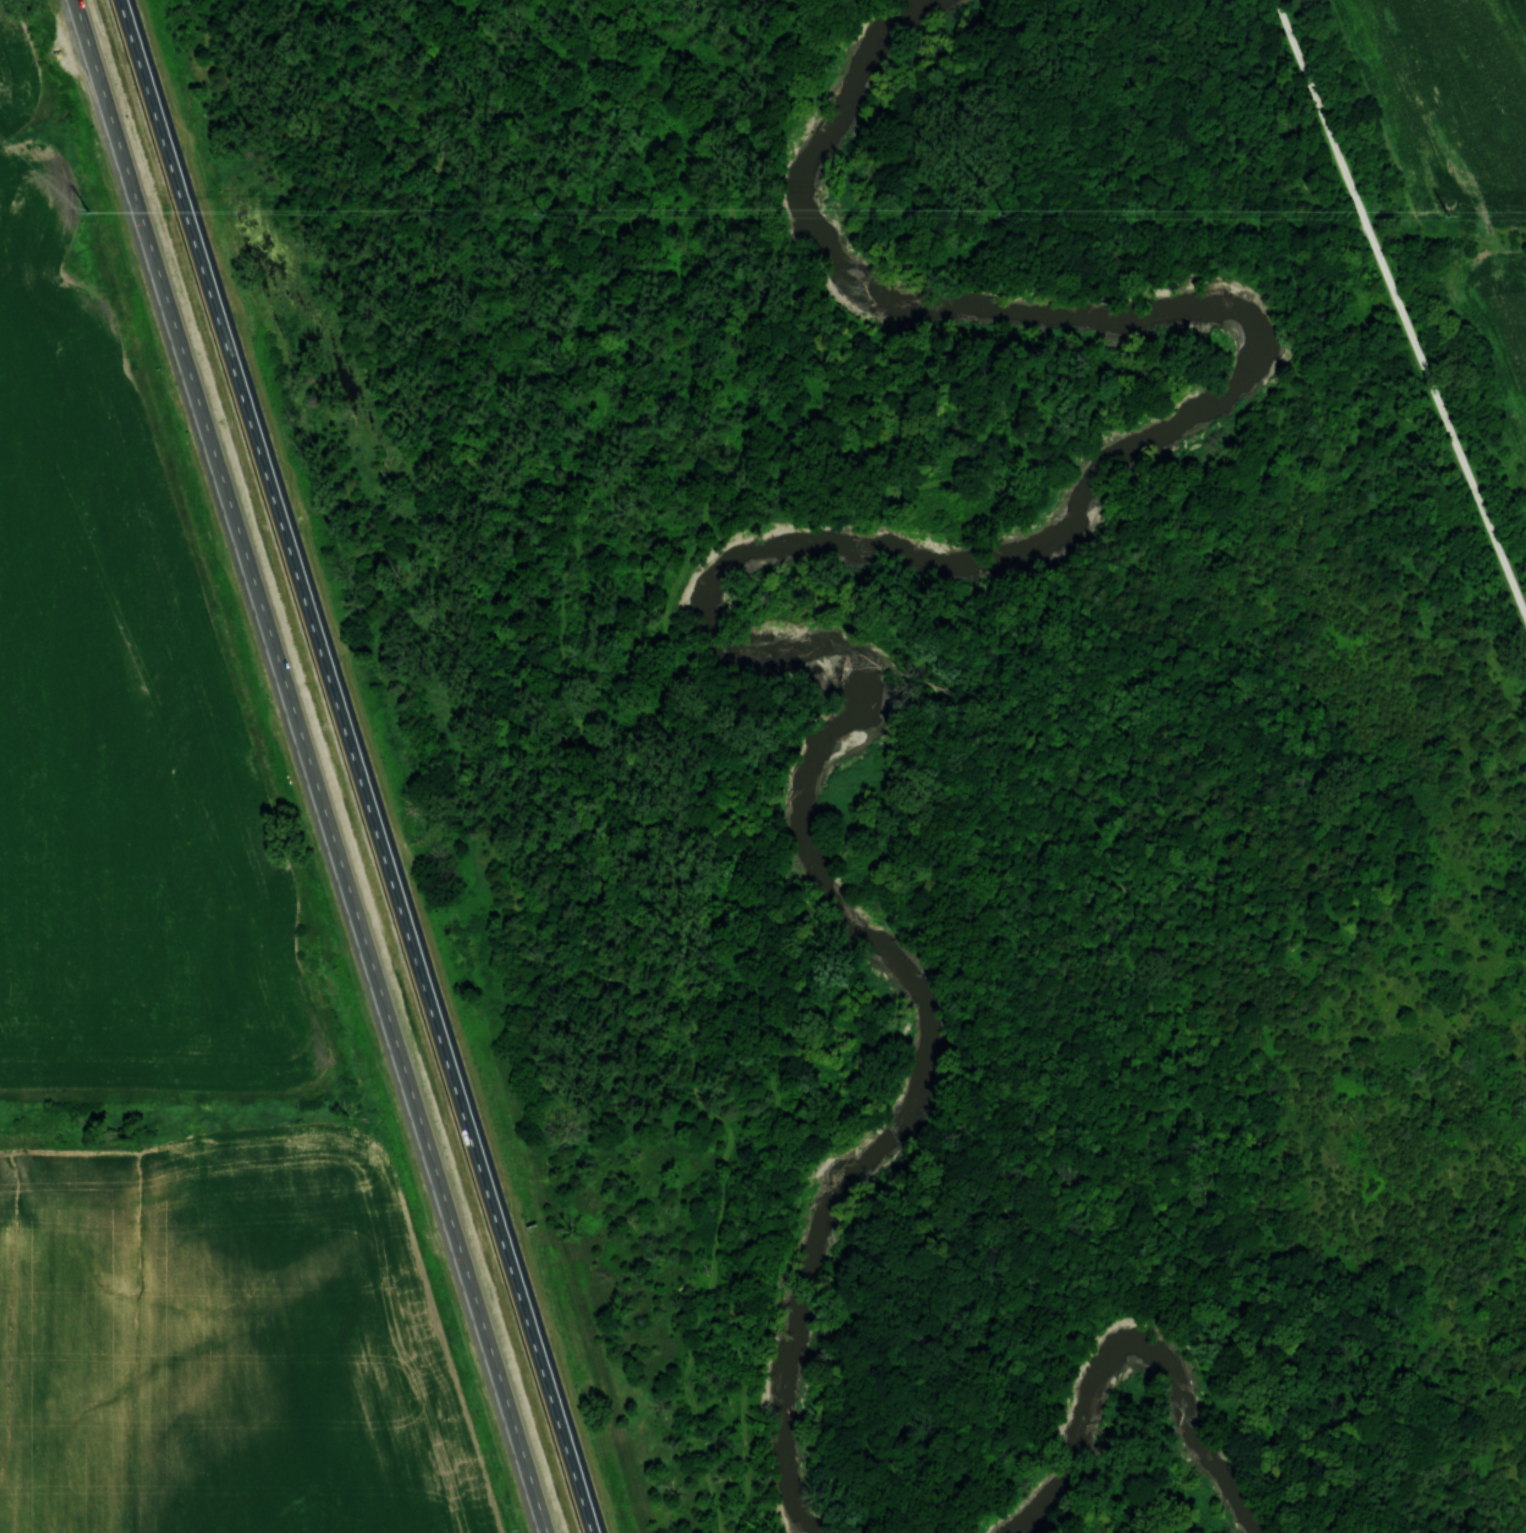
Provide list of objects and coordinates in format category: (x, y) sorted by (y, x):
park: (1460, 155)
power tower: (86, 212)
power tower: (540, 213)
power tower: (1000, 214)
power tower: (1447, 215)
road: (1303, 224)
road: (1399, 307)
river: (797, 551)
road: (918, 664)
road: (570, 710)
park: (818, 735)
road: (310, 766)
road: (354, 766)
river: (1135, 1351)
road: (726, 1531)

